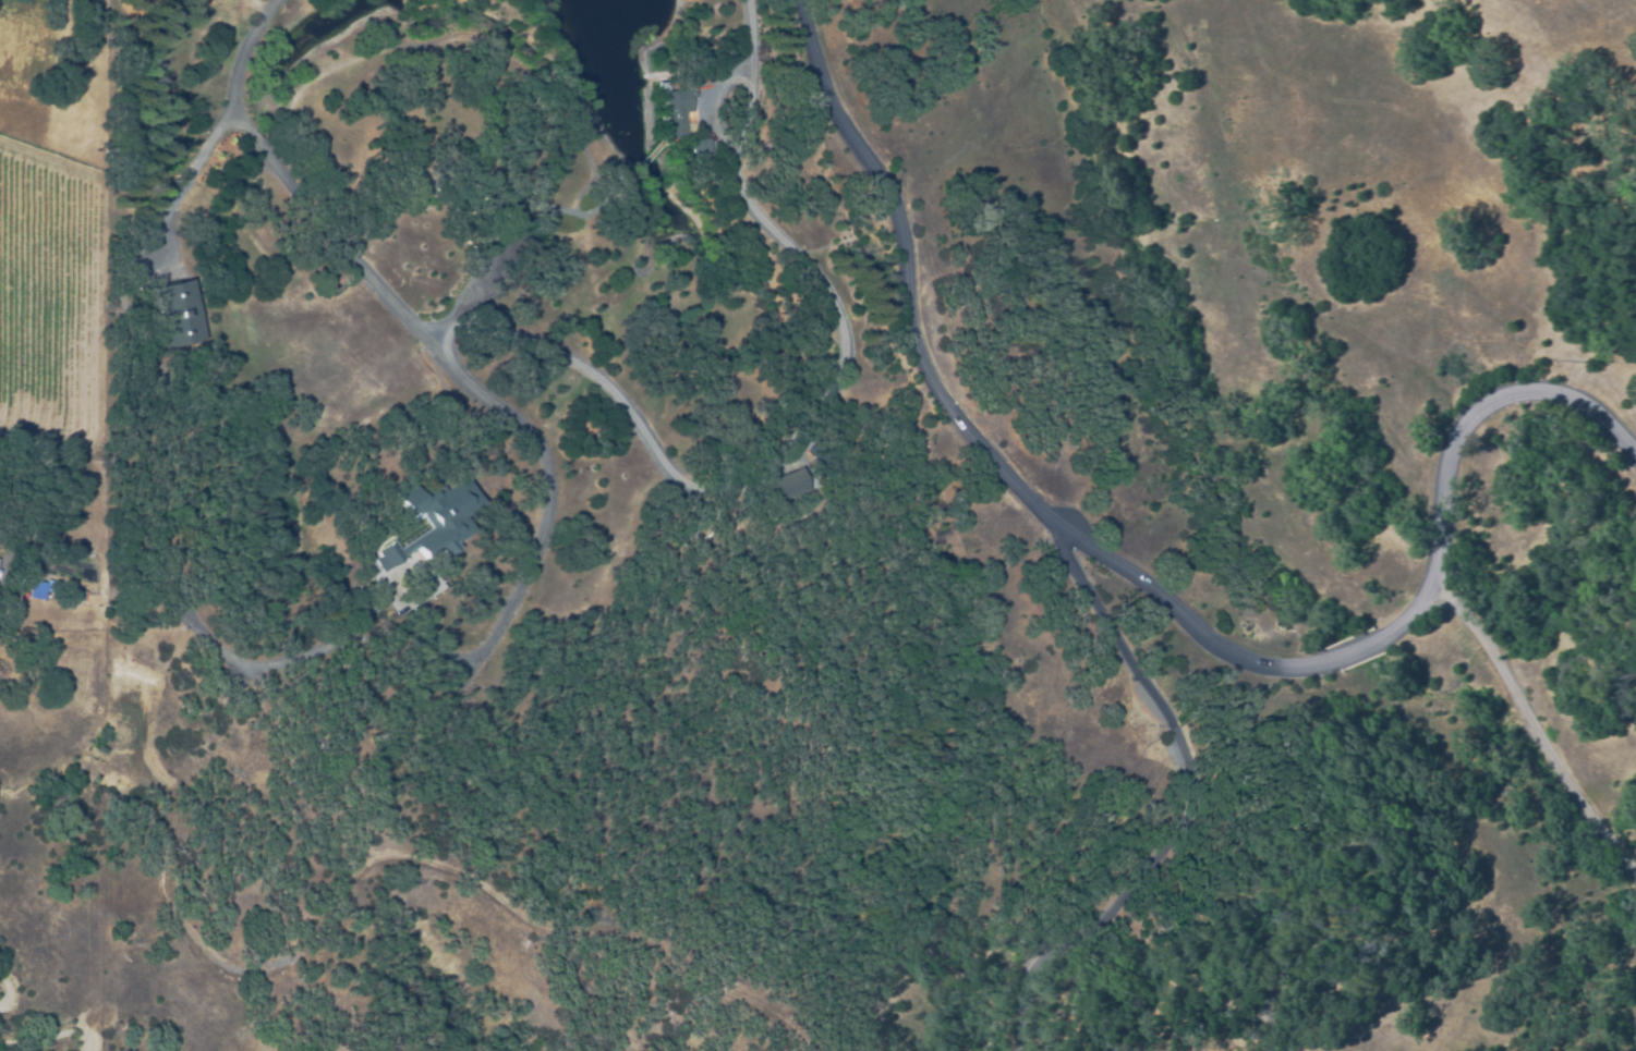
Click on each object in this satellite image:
dam: (675, 3)
building: (674, 114)
building: (699, 147)
road: (186, 180)
building: (181, 314)
road: (427, 344)
road: (849, 358)
building: (792, 489)
building: (429, 524)
building: (4, 563)
road: (1140, 576)
building: (39, 588)
building: (22, 594)
building: (77, 595)
road: (1532, 724)
road: (1204, 806)

